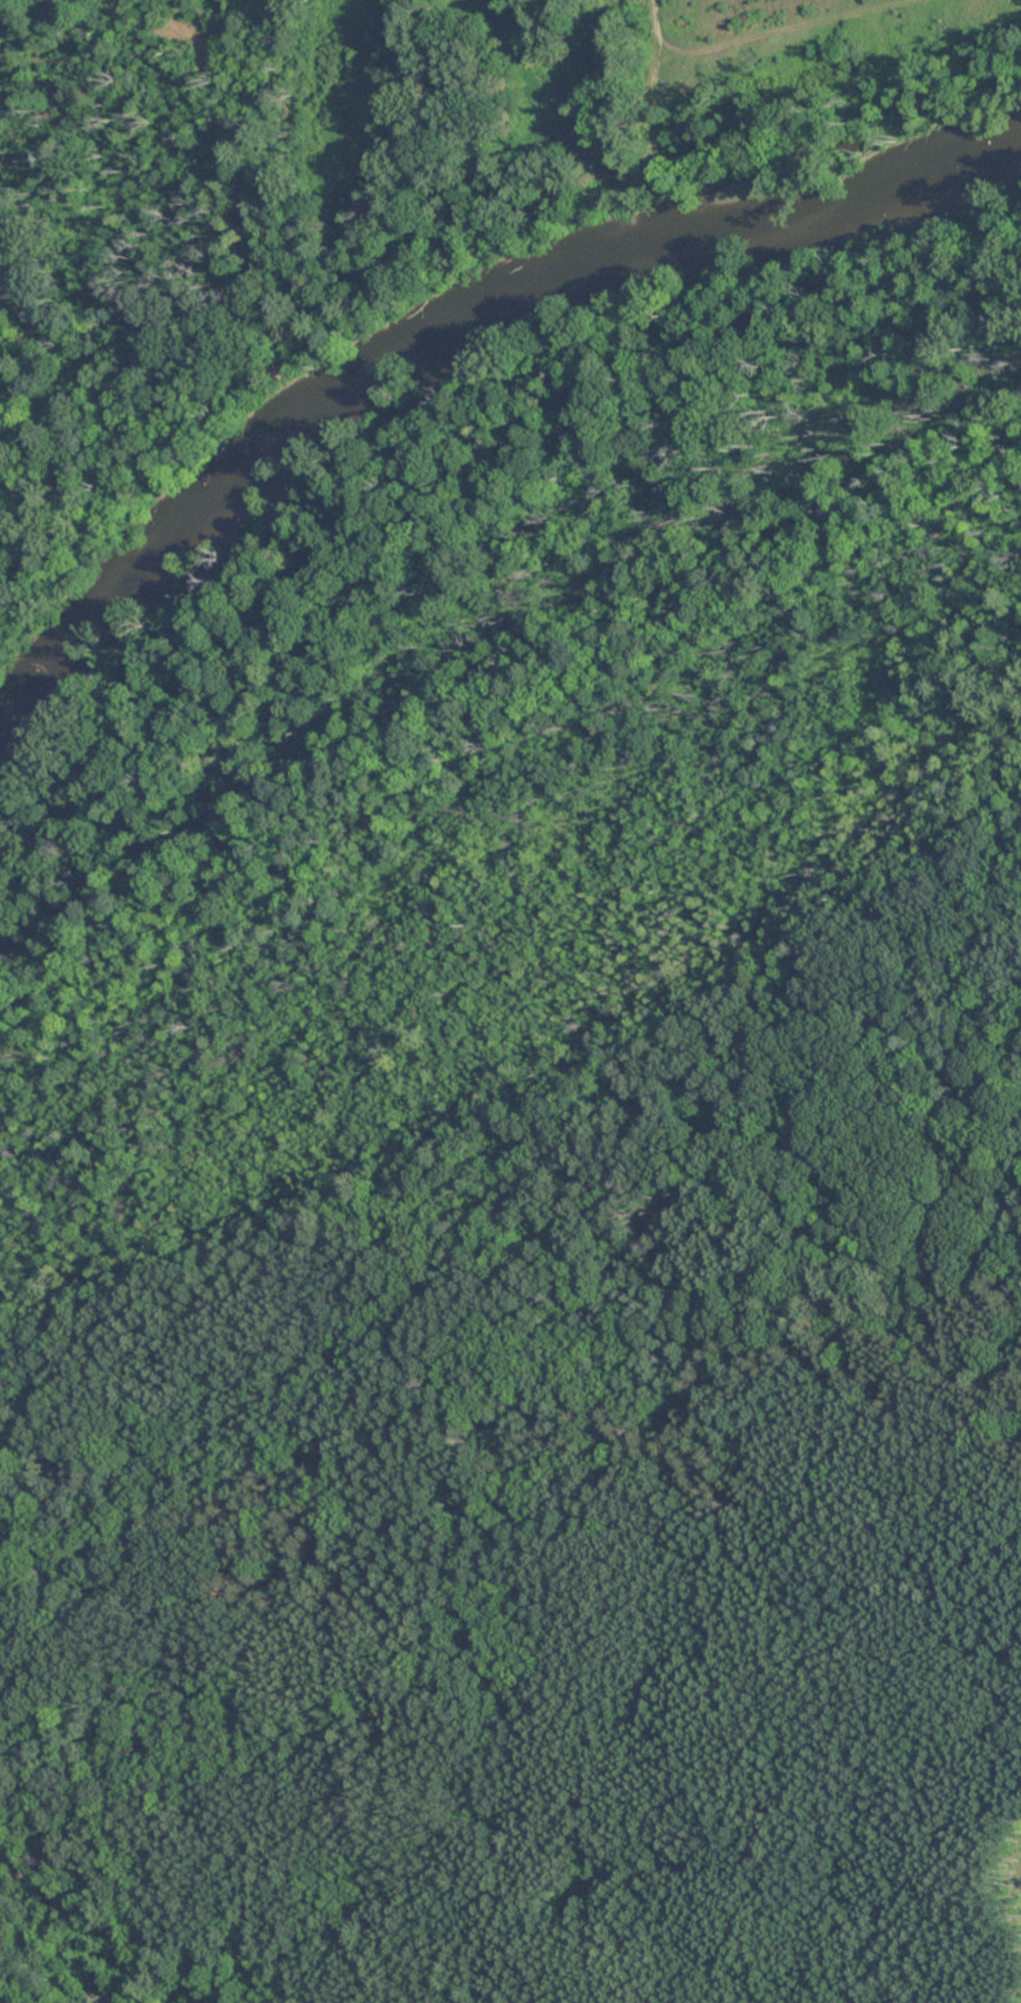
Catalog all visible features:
road: (656, 34)
park: (134, 227)
river: (425, 343)
park: (537, 1173)
road: (507, 1388)

